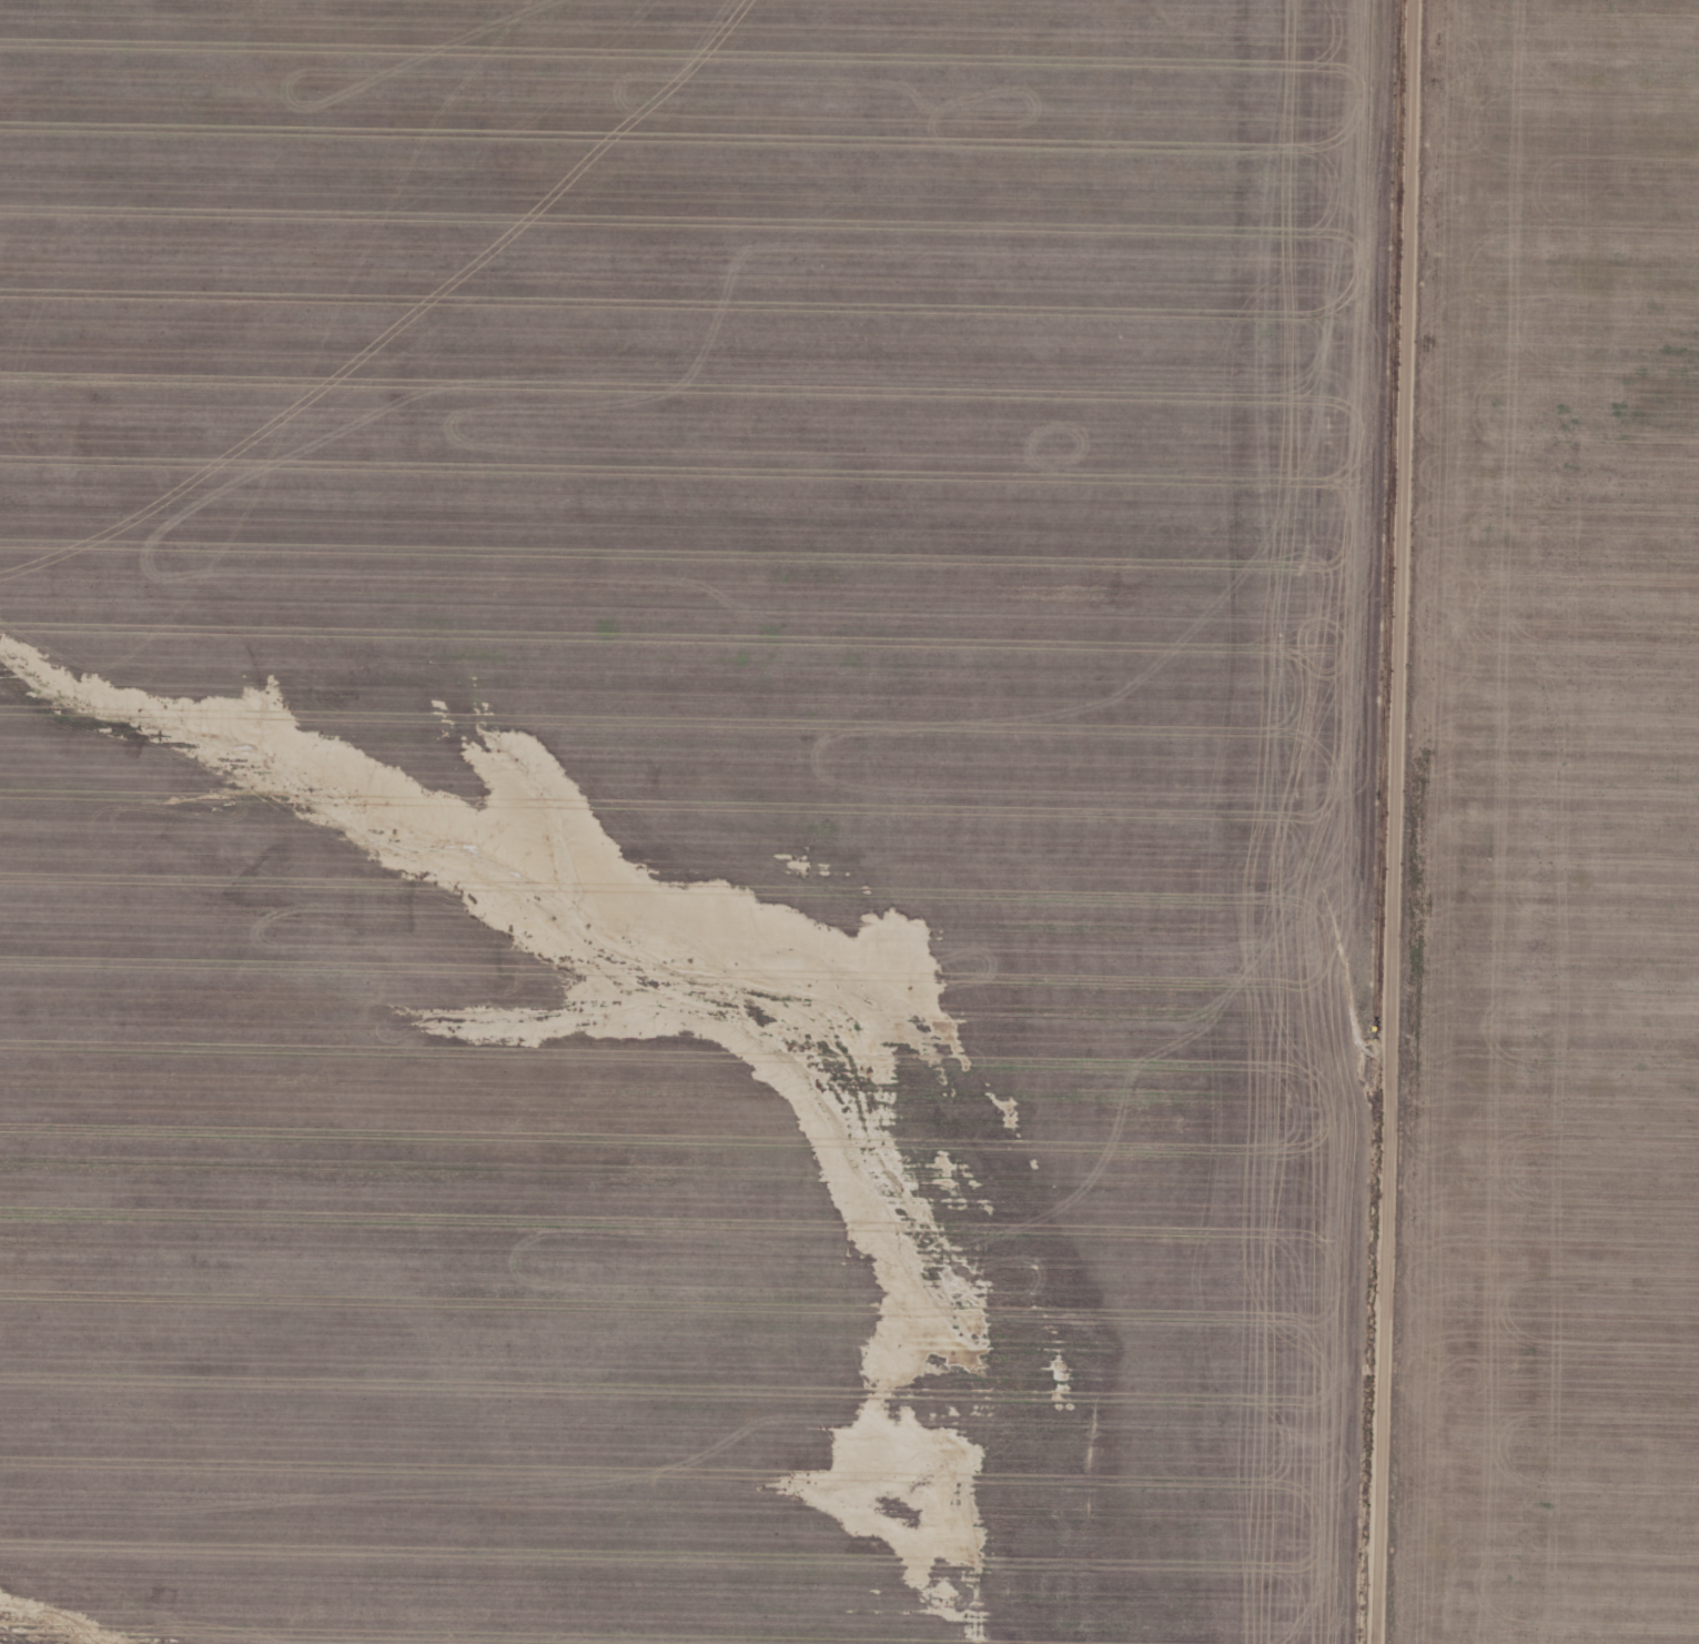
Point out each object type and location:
road: (1396, 821)

